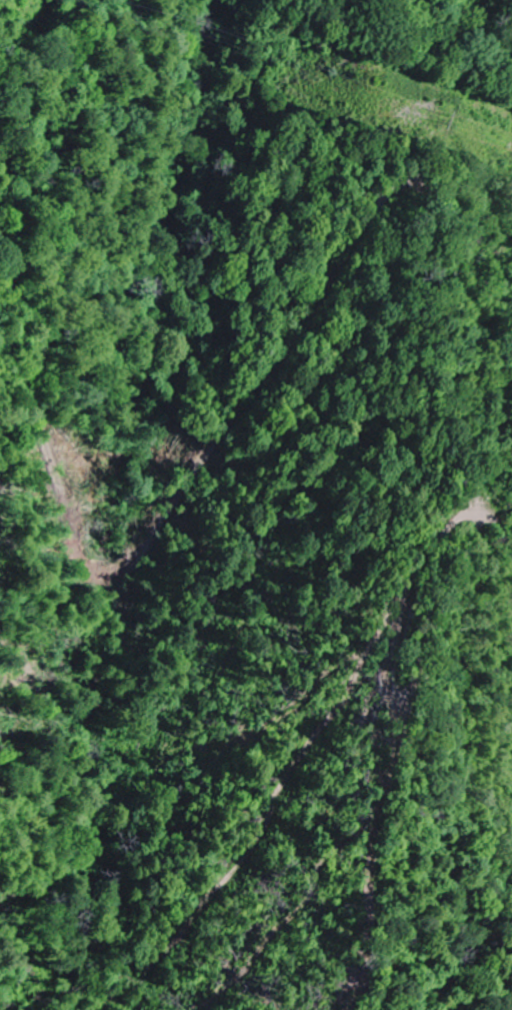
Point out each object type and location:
power tower: (450, 127)

